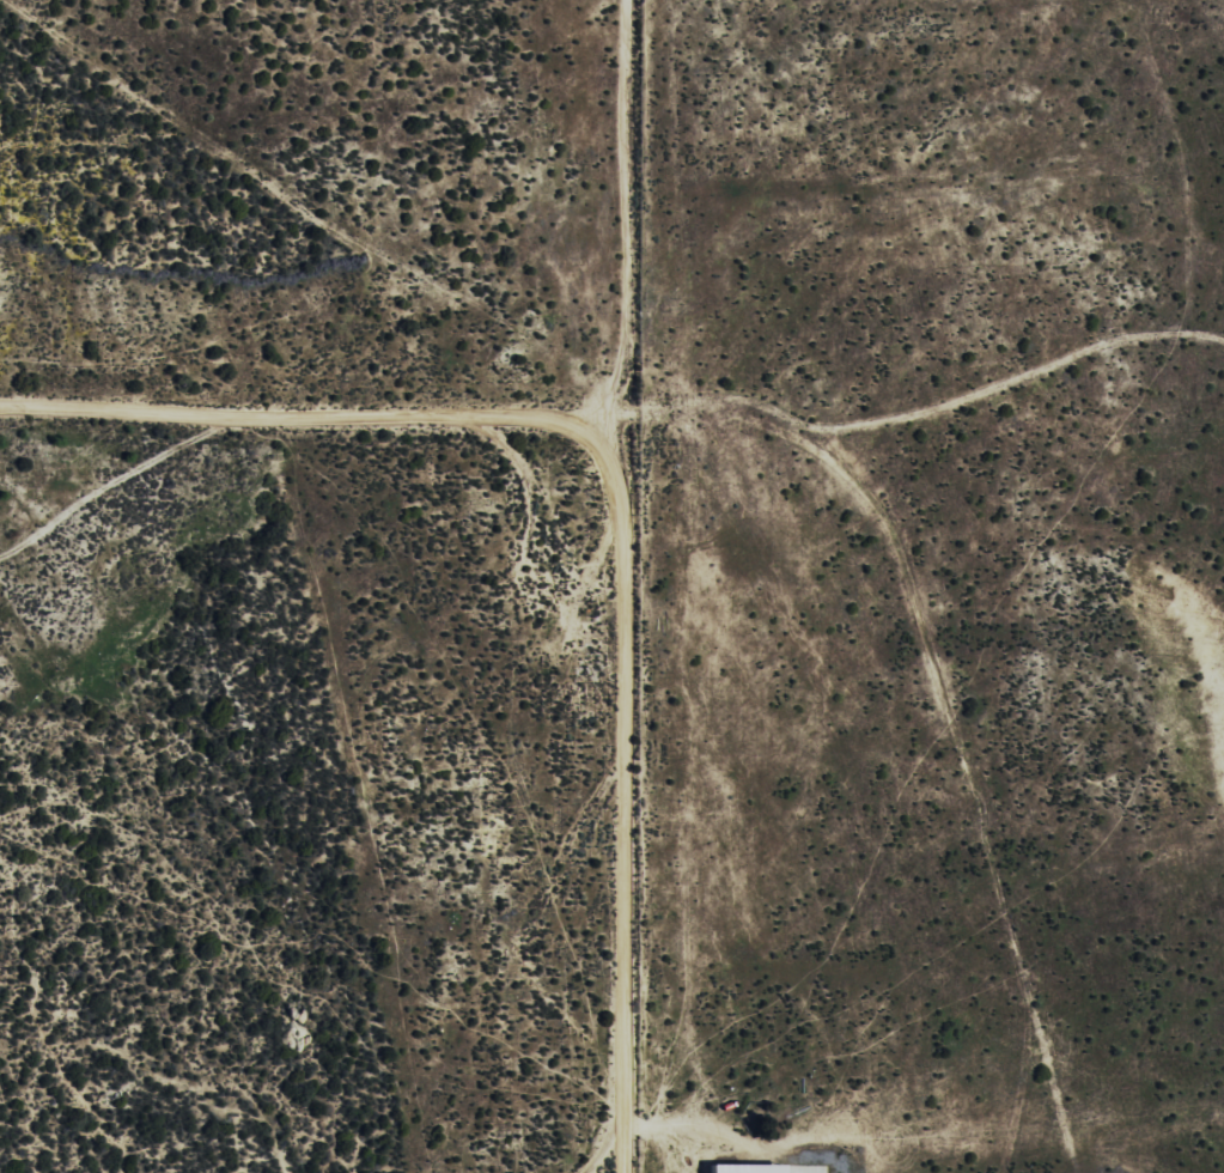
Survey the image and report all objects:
building: (745, 1168)

